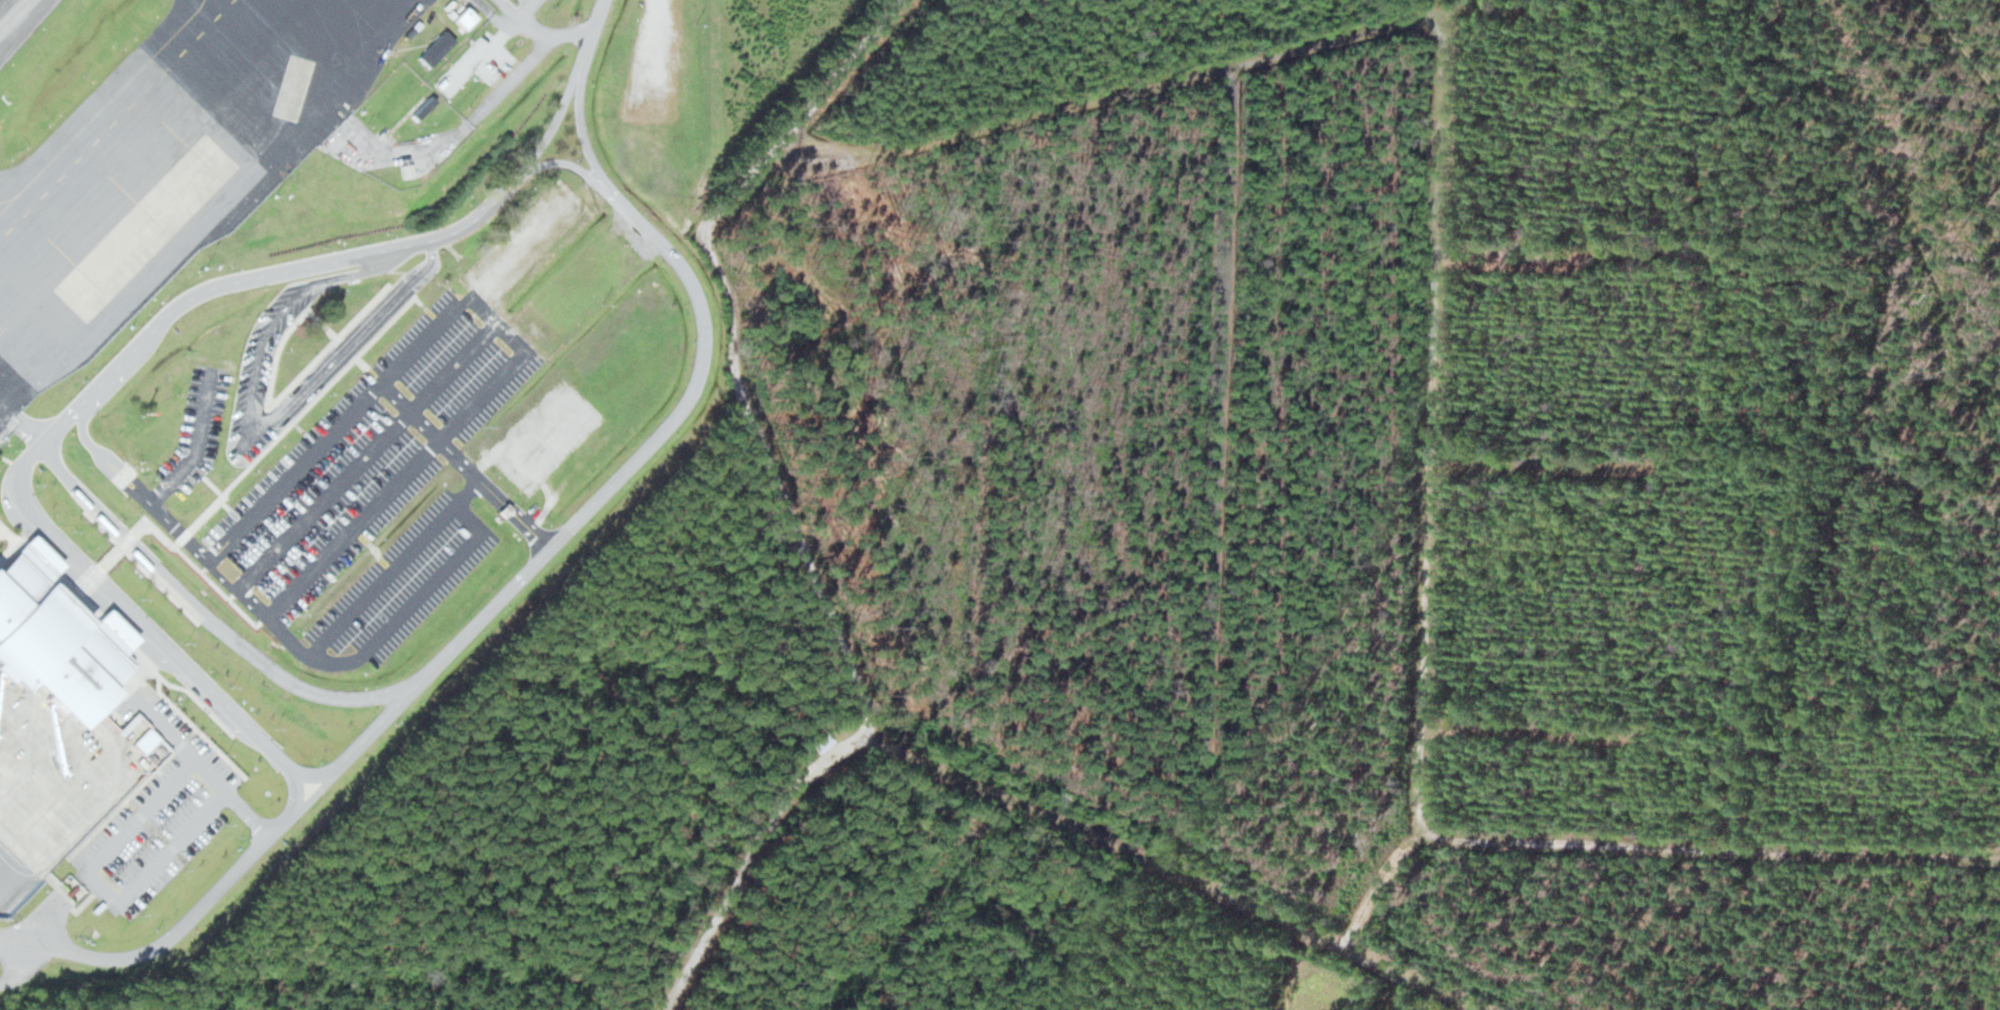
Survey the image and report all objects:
parking lot: (533, 3)
airport taxiway: (199, 7)
airport taxiway: (13, 14)
building: (464, 19)
road: (520, 24)
road: (591, 39)
building: (436, 48)
parking lot: (479, 61)
road: (524, 63)
building: (423, 108)
airport taxiway: (97, 113)
road: (581, 130)
road: (547, 137)
road: (551, 163)
airport apron: (170, 164)
building: (407, 171)
airport taxiway: (10, 197)
building: (371, 206)
road: (1518, 258)
building: (257, 268)
road: (1436, 286)
road: (391, 320)
building: (137, 352)
parking lot: (316, 379)
road: (330, 383)
road: (279, 396)
building: (85, 400)
airport: (304, 405)
road: (1220, 413)
road: (258, 424)
parking lot: (198, 429)
road: (97, 449)
road: (648, 449)
parking lot: (373, 450)
road: (261, 453)
road: (365, 455)
road: (5, 458)
road: (422, 458)
road: (466, 465)
road: (21, 466)
road: (1541, 468)
road: (212, 485)
road: (159, 493)
road: (225, 504)
road: (205, 514)
road: (156, 530)
road: (184, 535)
road: (10, 536)
road: (127, 539)
road: (8, 549)
road: (111, 556)
road: (205, 566)
road: (215, 566)
road: (88, 580)
parking lot: (400, 588)
road: (220, 590)
road: (75, 593)
road: (234, 593)
road: (414, 599)
road: (209, 615)
airport terminal: (55, 637)
building: (55, 637)
road: (198, 700)
road: (181, 714)
road: (1529, 735)
road: (184, 739)
building: (817, 741)
road: (880, 744)
building: (101, 757)
airport apron: (51, 785)
road: (298, 785)
road: (321, 788)
road: (120, 804)
parking lot: (158, 813)
road: (252, 814)
building: (46, 853)
road: (755, 856)
building: (191, 869)
road: (52, 880)
road: (81, 905)
road: (171, 937)
road: (18, 966)

